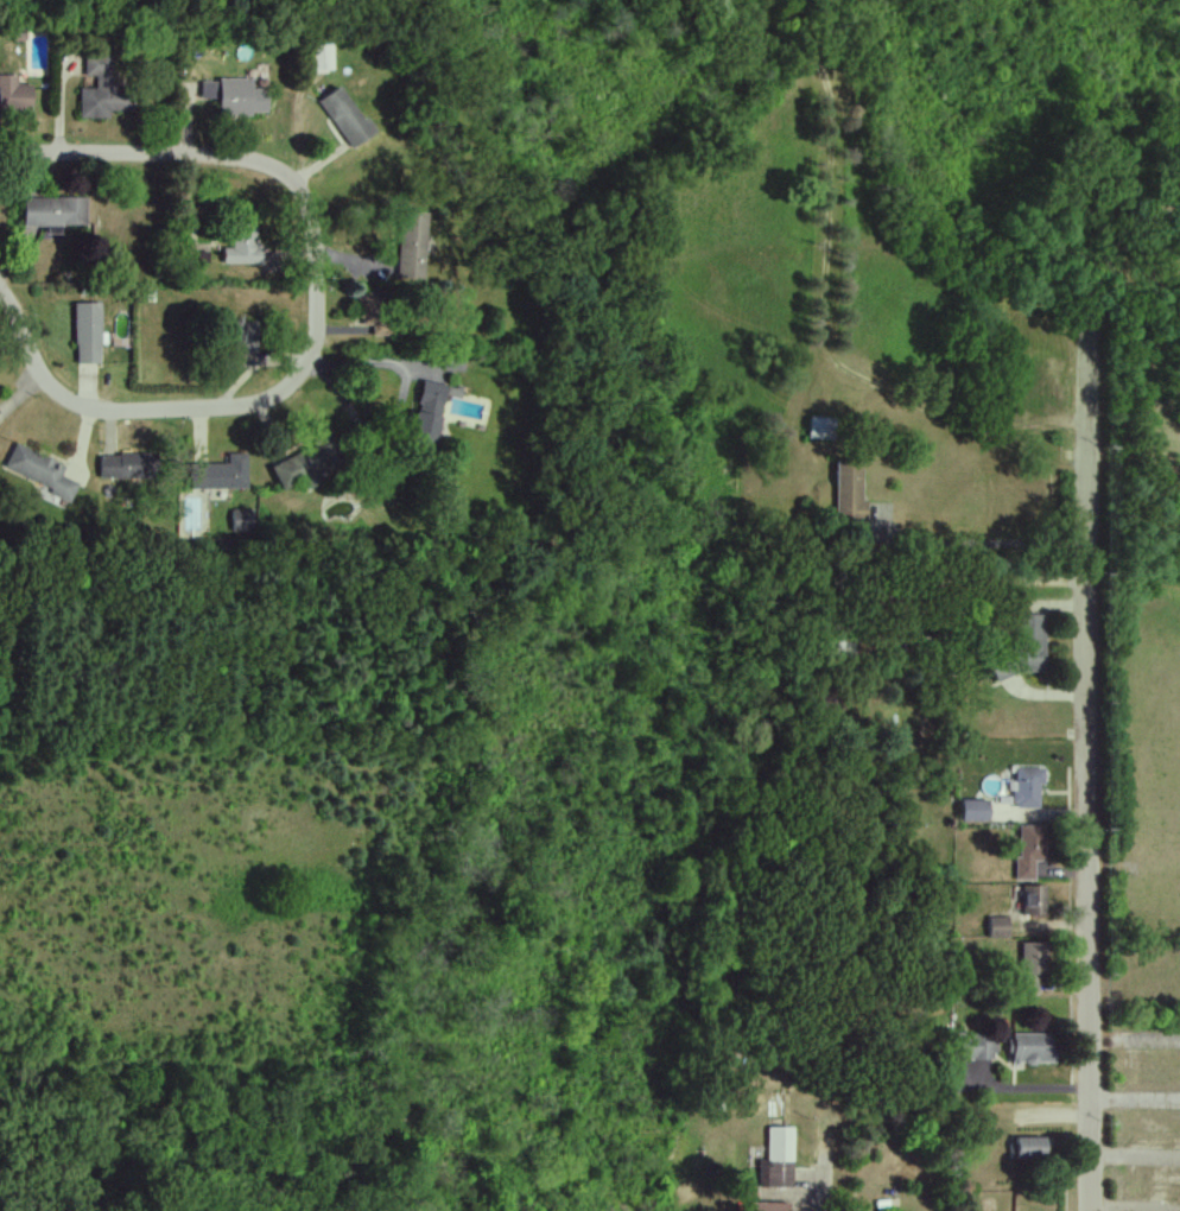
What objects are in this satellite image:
building: (321, 57)
building: (103, 87)
building: (14, 94)
building: (236, 96)
building: (344, 116)
road: (148, 154)
building: (53, 213)
building: (411, 245)
building: (243, 246)
building: (88, 332)
building: (243, 337)
road: (222, 410)
building: (427, 414)
building: (820, 429)
building: (123, 467)
building: (39, 470)
building: (293, 473)
building: (222, 474)
building: (849, 490)
building: (245, 520)
road: (982, 544)
road: (1005, 587)
building: (1032, 642)
road: (1092, 690)
building: (1027, 787)
building: (976, 810)
building: (1030, 849)
building: (1035, 900)
building: (998, 927)
building: (1033, 965)
building: (976, 1046)
building: (1033, 1048)
building: (1030, 1147)
building: (778, 1159)
road: (825, 1184)
building: (768, 1206)

